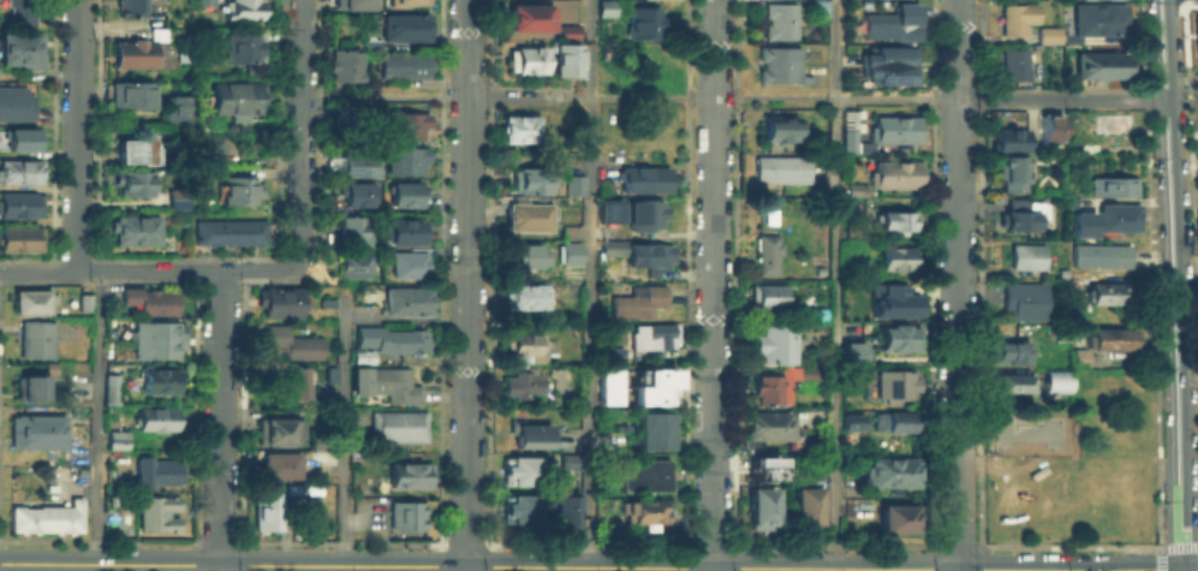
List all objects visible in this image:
building: (407, 2)
building: (204, 4)
building: (352, 4)
building: (606, 7)
building: (138, 8)
building: (246, 11)
building: (19, 13)
building: (529, 17)
building: (1013, 19)
building: (777, 20)
building: (1095, 20)
building: (892, 22)
building: (643, 23)
building: (404, 26)
building: (567, 31)
building: (1050, 34)
building: (161, 35)
building: (1197, 35)
building: (145, 37)
building: (371, 44)
building: (245, 49)
building: (20, 50)
building: (138, 56)
building: (566, 59)
building: (524, 60)
building: (401, 63)
building: (1012, 64)
building: (344, 65)
building: (779, 65)
building: (889, 65)
building: (1098, 65)
building: (132, 96)
road: (403, 96)
road: (517, 97)
road: (763, 97)
road: (1067, 99)
building: (240, 101)
building: (14, 105)
building: (178, 111)
building: (352, 118)
building: (1110, 124)
building: (404, 125)
building: (777, 126)
building: (518, 127)
building: (892, 130)
building: (847, 131)
road: (302, 133)
road: (76, 135)
building: (1050, 135)
building: (22, 141)
building: (1007, 141)
building: (211, 149)
building: (142, 153)
building: (405, 160)
building: (359, 165)
building: (779, 168)
building: (893, 173)
building: (19, 174)
building: (1009, 174)
building: (643, 179)
building: (526, 180)
building: (573, 184)
building: (136, 185)
building: (1113, 188)
building: (240, 189)
building: (606, 189)
building: (858, 190)
building: (356, 194)
building: (403, 194)
building: (175, 197)
building: (19, 206)
building: (608, 209)
building: (643, 214)
building: (526, 216)
building: (896, 220)
building: (1015, 220)
building: (1105, 220)
building: (351, 228)
building: (406, 231)
building: (139, 233)
building: (233, 236)
building: (19, 239)
building: (610, 246)
building: (568, 252)
building: (1099, 252)
building: (525, 255)
building: (765, 255)
building: (648, 256)
building: (898, 256)
building: (1025, 256)
building: (353, 263)
building: (407, 263)
road: (150, 269)
building: (1078, 275)
road: (467, 284)
road: (590, 285)
road: (713, 285)
road: (835, 285)
road: (959, 285)
road: (1184, 285)
building: (764, 292)
building: (1115, 293)
building: (521, 296)
building: (888, 296)
building: (148, 297)
building: (1027, 298)
building: (276, 299)
building: (405, 299)
building: (30, 301)
building: (82, 301)
building: (326, 302)
building: (636, 302)
building: (894, 333)
building: (651, 334)
building: (34, 337)
building: (154, 338)
building: (1115, 338)
building: (400, 340)
building: (291, 341)
building: (769, 341)
building: (521, 343)
building: (852, 350)
building: (610, 351)
building: (1011, 352)
building: (360, 355)
building: (1081, 357)
building: (807, 370)
building: (652, 376)
building: (159, 377)
building: (287, 379)
building: (559, 379)
building: (358, 380)
building: (519, 380)
building: (1055, 380)
building: (895, 381)
building: (31, 382)
building: (1011, 382)
building: (392, 383)
building: (607, 385)
building: (768, 386)
building: (108, 387)
building: (650, 394)
building: (155, 416)
building: (851, 418)
building: (896, 418)
road: (97, 420)
road: (221, 420)
building: (765, 423)
building: (395, 424)
building: (649, 426)
road: (342, 427)
building: (275, 428)
building: (34, 429)
building: (1031, 430)
building: (530, 435)
building: (115, 436)
building: (320, 441)
building: (72, 457)
building: (567, 459)
building: (279, 463)
building: (751, 466)
building: (811, 466)
building: (893, 468)
building: (157, 469)
building: (518, 469)
building: (405, 474)
building: (642, 474)
building: (805, 502)
building: (759, 505)
building: (564, 507)
building: (520, 508)
building: (642, 508)
building: (266, 510)
building: (154, 511)
building: (404, 515)
building: (43, 516)
building: (899, 516)
road: (1197, 542)
road: (1180, 543)
road: (1160, 546)
road: (1160, 560)
road: (598, 567)
road: (465, 569)
traffic signals: (1187, 569)
road: (1080, 570)

